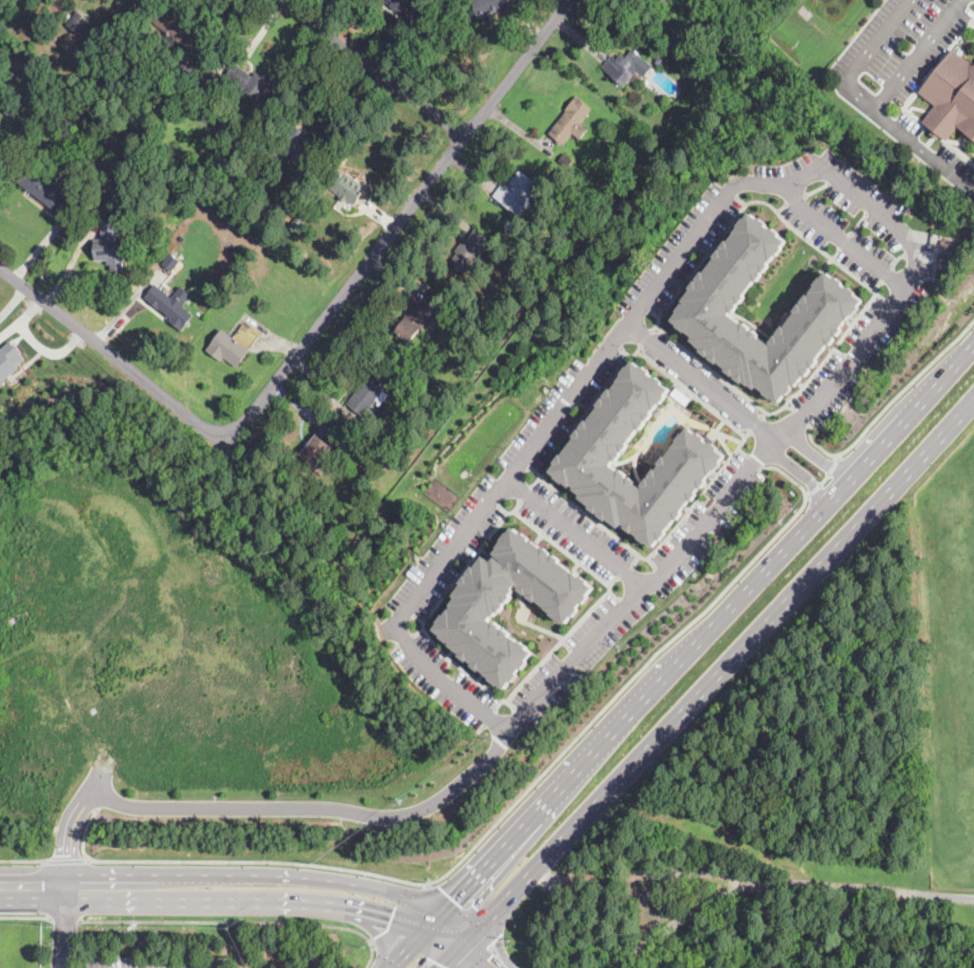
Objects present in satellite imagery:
building: (399, 4)
building: (487, 6)
building: (80, 21)
building: (174, 23)
building: (661, 61)
road: (374, 67)
building: (627, 67)
building: (185, 69)
building: (248, 81)
building: (212, 96)
building: (951, 96)
road: (871, 108)
building: (13, 111)
building: (572, 121)
building: (300, 148)
road: (920, 148)
building: (566, 160)
building: (250, 166)
building: (43, 186)
road: (969, 187)
building: (348, 188)
building: (517, 193)
building: (89, 197)
road: (401, 219)
building: (297, 223)
building: (510, 224)
road: (842, 238)
building: (112, 245)
building: (469, 251)
building: (172, 261)
building: (171, 307)
building: (828, 308)
road: (21, 318)
building: (418, 319)
building: (464, 322)
building: (235, 344)
road: (47, 350)
road: (111, 352)
building: (9, 359)
road: (702, 381)
building: (371, 389)
building: (411, 395)
road: (886, 404)
building: (317, 450)
road: (816, 451)
building: (703, 457)
road: (833, 463)
road: (799, 470)
road: (824, 476)
road: (812, 487)
road: (815, 514)
road: (576, 532)
road: (412, 601)
building: (480, 606)
road: (720, 668)
road: (639, 669)
road: (544, 801)
road: (259, 807)
road: (84, 831)
road: (23, 860)
road: (66, 860)
road: (257, 860)
road: (282, 877)
road: (784, 884)
road: (72, 890)
road: (278, 896)
traffic signals: (454, 898)
road: (466, 909)
road: (325, 911)
traffic signals: (392, 913)
road: (24, 915)
road: (402, 916)
road: (64, 918)
road: (421, 918)
road: (242, 919)
road: (62, 928)
road: (448, 931)
traffic signals: (380, 934)
road: (118, 936)
road: (409, 945)
road: (416, 950)
traffic signals: (484, 951)
road: (490, 951)
road: (486, 952)
road: (451, 953)
road: (102, 962)
parking lot: (153, 963)
traffic signals: (443, 963)

